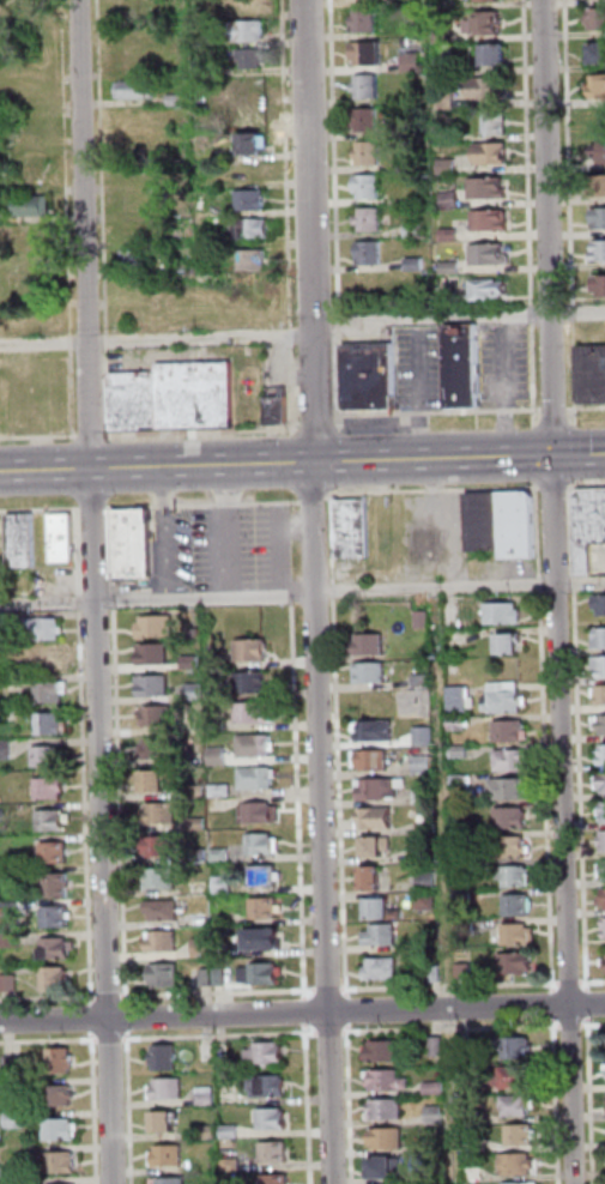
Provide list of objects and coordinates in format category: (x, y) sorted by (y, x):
building: (480, 0)
building: (387, 2)
building: (594, 19)
building: (358, 20)
building: (479, 24)
building: (242, 31)
building: (438, 35)
building: (362, 54)
building: (595, 54)
building: (488, 55)
building: (247, 58)
building: (134, 60)
building: (406, 62)
building: (440, 66)
building: (201, 71)
building: (249, 86)
building: (362, 86)
building: (595, 86)
building: (482, 89)
building: (129, 91)
building: (441, 99)
building: (173, 101)
building: (249, 113)
building: (361, 120)
building: (491, 122)
building: (406, 129)
building: (247, 145)
building: (362, 153)
building: (597, 153)
building: (486, 155)
building: (441, 167)
building: (250, 169)
building: (597, 186)
building: (362, 187)
building: (483, 188)
building: (246, 200)
building: (443, 200)
building: (29, 204)
building: (195, 204)
road: (331, 209)
road: (283, 215)
road: (565, 215)
road: (524, 216)
building: (595, 218)
road: (62, 219)
road: (97, 219)
building: (364, 219)
building: (485, 219)
building: (244, 228)
building: (409, 231)
building: (29, 232)
building: (444, 235)
building: (597, 252)
building: (364, 253)
building: (484, 255)
building: (247, 260)
building: (131, 261)
building: (410, 265)
building: (444, 266)
building: (600, 283)
building: (489, 288)
building: (25, 290)
road: (460, 318)
road: (158, 340)
building: (464, 363)
parking lot: (507, 364)
parking lot: (422, 367)
building: (593, 371)
building: (371, 374)
building: (177, 395)
building: (279, 405)
road: (586, 406)
road: (556, 407)
road: (440, 411)
road: (319, 421)
building: (0, 424)
road: (202, 430)
road: (92, 435)
road: (40, 436)
road: (537, 454)
road: (577, 454)
traffic signals: (557, 455)
road: (302, 463)
road: (580, 483)
road: (588, 484)
road: (556, 485)
road: (435, 489)
road: (316, 497)
road: (205, 505)
road: (214, 507)
road: (96, 508)
road: (41, 509)
building: (486, 520)
building: (519, 522)
building: (591, 526)
building: (353, 527)
road: (165, 532)
building: (65, 537)
building: (24, 539)
building: (135, 542)
parking lot: (190, 551)
road: (216, 554)
road: (462, 587)
road: (97, 591)
road: (320, 591)
road: (559, 591)
road: (159, 599)
building: (601, 602)
building: (504, 612)
building: (5, 618)
building: (424, 618)
building: (158, 627)
building: (46, 629)
building: (600, 639)
building: (371, 644)
building: (512, 644)
building: (254, 650)
building: (156, 653)
building: (46, 658)
building: (193, 662)
building: (600, 664)
building: (373, 672)
building: (424, 679)
building: (252, 682)
building: (6, 683)
building: (156, 684)
building: (506, 685)
building: (53, 691)
building: (196, 693)
building: (220, 693)
building: (603, 693)
building: (460, 699)
building: (473, 701)
building: (506, 701)
building: (256, 713)
building: (7, 714)
building: (159, 717)
building: (600, 721)
building: (53, 724)
building: (460, 724)
building: (218, 725)
building: (377, 730)
building: (510, 731)
building: (425, 736)
road: (546, 737)
road: (581, 737)
road: (339, 744)
building: (258, 745)
building: (6, 749)
building: (161, 749)
road: (298, 751)
building: (461, 751)
road: (120, 755)
building: (49, 756)
road: (85, 756)
building: (219, 756)
building: (373, 759)
building: (603, 759)
building: (514, 760)
building: (425, 765)
building: (258, 777)
building: (157, 780)
building: (462, 780)
building: (601, 780)
building: (52, 787)
building: (380, 789)
building: (510, 789)
building: (225, 790)
building: (199, 791)
building: (426, 797)
building: (603, 807)
building: (261, 813)
building: (163, 814)
building: (377, 817)
building: (513, 817)
building: (53, 820)
building: (199, 824)
building: (430, 826)
building: (601, 839)
building: (265, 844)
building: (377, 845)
building: (514, 845)
building: (161, 846)
building: (56, 853)
building: (223, 854)
building: (201, 856)
building: (464, 868)
building: (601, 868)
building: (10, 875)
building: (266, 876)
building: (519, 876)
building: (373, 877)
building: (163, 878)
building: (429, 880)
building: (61, 884)
building: (224, 884)
building: (199, 888)
building: (465, 894)
building: (428, 900)
building: (604, 900)
building: (519, 905)
building: (12, 908)
building: (266, 908)
building: (383, 908)
building: (164, 910)
building: (59, 916)
building: (603, 926)
building: (468, 928)
building: (382, 934)
building: (521, 934)
building: (265, 938)
building: (164, 940)
building: (13, 941)
building: (204, 947)
building: (58, 948)
building: (518, 962)
building: (382, 967)
building: (466, 971)
building: (262, 973)
building: (436, 973)
building: (167, 974)
building: (208, 977)
building: (220, 977)
building: (58, 978)
road: (593, 981)
building: (12, 983)
road: (571, 983)
road: (452, 985)
road: (331, 991)
road: (219, 993)
road: (110, 995)
road: (48, 997)
road: (589, 1003)
road: (555, 1005)
road: (349, 1010)
road: (307, 1011)
road: (302, 1013)
road: (93, 1017)
road: (128, 1017)
road: (594, 1025)
road: (573, 1026)
road: (454, 1029)
road: (332, 1032)
road: (222, 1035)
road: (113, 1039)
road: (49, 1040)
building: (438, 1045)
building: (519, 1046)
building: (388, 1051)
building: (267, 1053)
building: (165, 1057)
building: (62, 1059)
building: (16, 1065)
building: (0, 1067)
building: (516, 1076)
building: (389, 1080)
building: (17, 1085)
building: (268, 1086)
building: (471, 1087)
building: (168, 1088)
building: (436, 1088)
building: (60, 1095)
building: (207, 1095)
road: (558, 1100)
road: (593, 1100)
road: (309, 1104)
road: (351, 1104)
building: (518, 1105)
road: (132, 1107)
road: (96, 1109)
building: (387, 1109)
building: (437, 1114)
building: (273, 1118)
building: (18, 1119)
building: (165, 1120)
building: (62, 1129)
building: (232, 1131)
building: (208, 1132)
building: (522, 1134)
building: (389, 1137)
building: (0, 1138)
building: (474, 1143)
building: (276, 1152)
building: (169, 1155)
building: (65, 1162)
building: (234, 1164)
building: (519, 1164)
building: (386, 1166)
building: (2, 1171)
building: (441, 1172)
building: (277, 1179)
building: (170, 1180)
building: (60, 1183)
building: (528, 1183)

